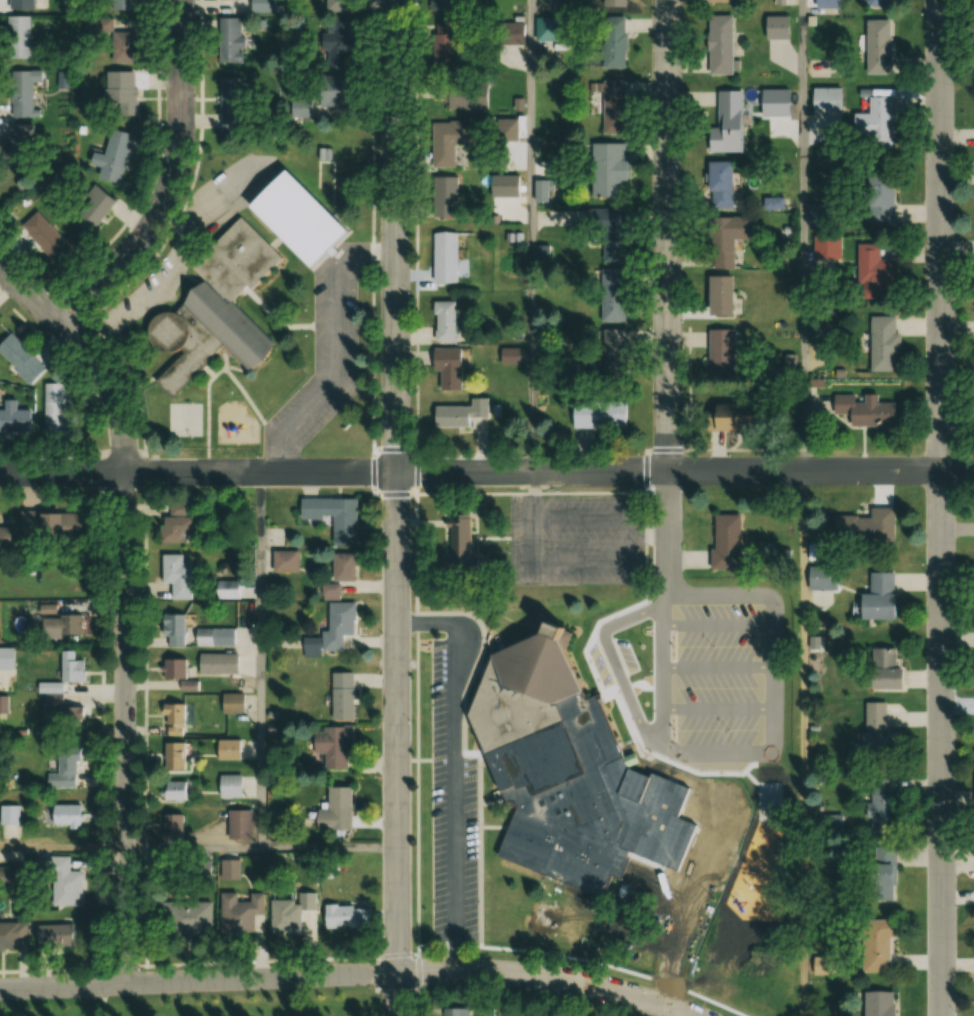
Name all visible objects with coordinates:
building: (548, 3)
building: (879, 3)
building: (19, 4)
building: (123, 5)
building: (245, 5)
building: (440, 5)
building: (776, 27)
building: (546, 28)
building: (509, 33)
building: (15, 37)
building: (228, 39)
building: (442, 42)
building: (613, 42)
building: (332, 43)
building: (719, 44)
building: (122, 46)
building: (877, 46)
building: (332, 90)
building: (21, 93)
building: (118, 93)
building: (825, 98)
building: (229, 104)
building: (611, 105)
building: (878, 122)
building: (727, 123)
building: (18, 140)
building: (447, 141)
building: (112, 155)
building: (608, 169)
road: (173, 182)
building: (719, 182)
building: (541, 190)
building: (443, 196)
building: (879, 202)
building: (91, 209)
building: (295, 218)
building: (33, 226)
building: (608, 235)
road: (803, 235)
road: (532, 236)
building: (728, 238)
building: (826, 247)
building: (55, 248)
building: (443, 257)
building: (872, 273)
building: (610, 295)
building: (718, 295)
building: (216, 308)
building: (442, 321)
building: (820, 327)
building: (881, 342)
road: (335, 348)
building: (720, 348)
building: (613, 353)
building: (509, 355)
building: (20, 358)
building: (446, 366)
building: (54, 407)
building: (861, 409)
building: (458, 413)
building: (597, 414)
building: (13, 416)
building: (726, 416)
park: (186, 418)
road: (551, 471)
road: (64, 472)
road: (397, 507)
road: (670, 507)
road: (940, 508)
building: (331, 516)
building: (44, 524)
road: (534, 524)
building: (864, 526)
building: (174, 527)
building: (4, 536)
building: (725, 540)
building: (461, 551)
building: (283, 560)
building: (341, 566)
building: (174, 575)
building: (821, 577)
building: (225, 589)
building: (328, 591)
road: (128, 597)
building: (876, 597)
building: (60, 623)
building: (329, 629)
building: (167, 631)
building: (210, 636)
building: (5, 657)
road: (260, 660)
building: (215, 663)
building: (885, 666)
building: (171, 667)
building: (65, 671)
building: (340, 694)
building: (231, 703)
building: (4, 704)
building: (171, 718)
building: (532, 720)
building: (876, 724)
road: (803, 743)
building: (330, 744)
building: (227, 749)
building: (173, 755)
building: (66, 767)
building: (767, 773)
building: (229, 785)
building: (171, 790)
building: (879, 806)
building: (333, 810)
building: (68, 818)
building: (238, 824)
building: (171, 826)
building: (569, 830)
road: (64, 847)
road: (194, 848)
road: (329, 848)
building: (228, 869)
building: (879, 872)
building: (63, 882)
building: (305, 900)
building: (239, 910)
building: (195, 915)
building: (279, 915)
building: (344, 915)
building: (545, 918)
park: (546, 918)
building: (11, 934)
building: (53, 936)
building: (875, 943)
road: (413, 972)
road: (63, 982)
park: (192, 1000)
building: (876, 1003)
building: (455, 1012)

